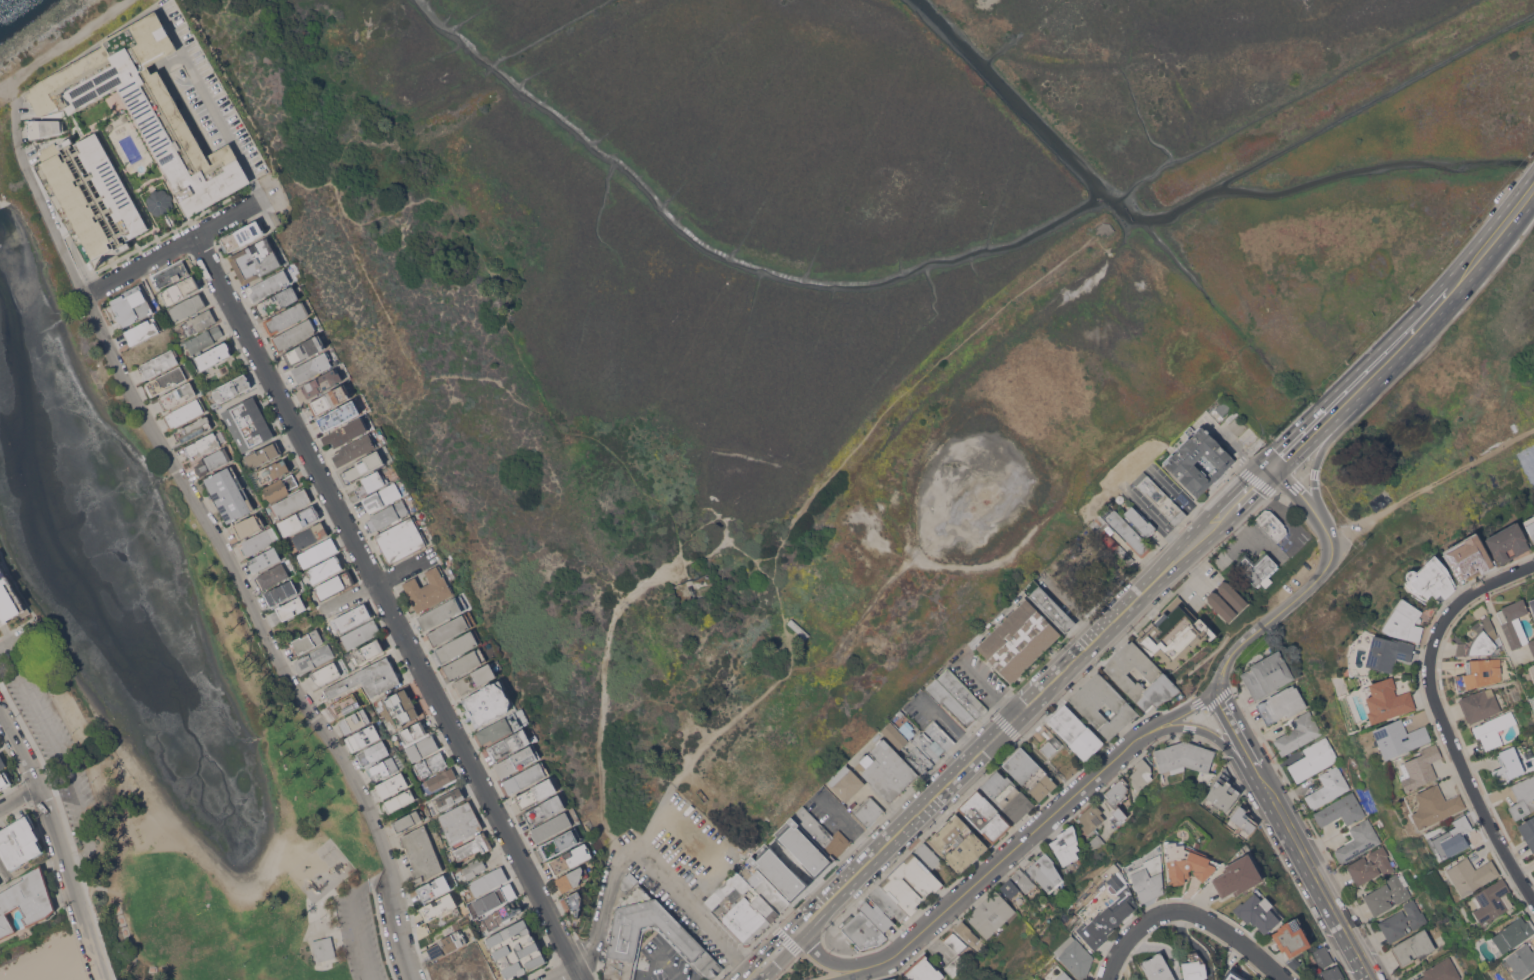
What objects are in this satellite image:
road: (66, 45)
road: (12, 89)
road: (204, 93)
building: (146, 109)
building: (116, 122)
building: (44, 127)
road: (291, 179)
road: (256, 189)
building: (92, 193)
road: (39, 198)
building: (159, 201)
building: (243, 235)
road: (169, 248)
building: (256, 260)
road: (364, 268)
building: (170, 273)
building: (269, 285)
building: (180, 290)
road: (1448, 291)
building: (278, 301)
building: (133, 305)
building: (188, 306)
building: (286, 317)
building: (199, 321)
building: (142, 331)
building: (293, 334)
building: (204, 339)
building: (304, 350)
building: (214, 355)
building: (160, 363)
building: (312, 366)
building: (165, 381)
building: (322, 382)
road: (914, 384)
building: (231, 389)
building: (178, 395)
building: (330, 400)
building: (1223, 407)
building: (185, 413)
building: (338, 415)
building: (1231, 417)
road: (553, 420)
building: (248, 423)
building: (193, 428)
road: (399, 428)
road: (1312, 428)
building: (346, 432)
building: (202, 445)
building: (355, 449)
road: (1319, 453)
building: (264, 454)
building: (389, 458)
building: (212, 461)
building: (1179, 461)
building: (363, 466)
traffic signals: (1272, 468)
road: (1123, 472)
building: (268, 473)
building: (371, 483)
road: (1431, 486)
building: (281, 487)
road: (1175, 491)
building: (230, 493)
road: (1300, 495)
building: (382, 497)
building: (1158, 497)
building: (292, 502)
road: (1151, 513)
building: (388, 515)
building: (300, 520)
building: (1140, 521)
building: (1271, 523)
building: (1098, 524)
building: (248, 525)
building: (1530, 526)
building: (1128, 532)
road: (1329, 534)
building: (310, 535)
building: (401, 539)
building: (1507, 541)
building: (257, 542)
road: (1095, 549)
road: (1013, 550)
building: (318, 552)
building: (1123, 554)
building: (267, 557)
road: (764, 557)
building: (1468, 557)
building: (1255, 567)
building: (325, 569)
park: (1092, 571)
building: (272, 576)
building: (1430, 578)
road: (608, 581)
road: (382, 582)
building: (336, 584)
building: (428, 589)
building: (1533, 590)
building: (281, 592)
road: (777, 594)
building: (1232, 595)
building: (9, 598)
road: (1287, 603)
building: (1532, 604)
building: (1048, 605)
building: (1221, 606)
building: (291, 607)
road: (386, 609)
building: (443, 611)
road: (613, 616)
building: (352, 617)
building: (1405, 621)
building: (1514, 624)
road: (1080, 626)
building: (798, 627)
building: (452, 628)
building: (1172, 631)
road: (263, 632)
building: (361, 634)
road: (22, 635)
building: (1017, 639)
building: (1479, 639)
building: (305, 641)
building: (458, 646)
building: (367, 651)
building: (1386, 652)
building: (314, 658)
building: (465, 662)
building: (1531, 670)
road: (1221, 672)
building: (326, 673)
building: (1479, 673)
building: (1266, 674)
building: (1154, 675)
building: (478, 676)
park: (158, 677)
building: (368, 679)
road: (988, 687)
traffic signals: (1213, 690)
building: (961, 692)
building: (1515, 692)
building: (1533, 697)
road: (1034, 698)
building: (1387, 700)
building: (949, 701)
building: (487, 702)
building: (1281, 704)
building: (1479, 704)
building: (345, 705)
building: (1088, 705)
building: (399, 708)
road: (1178, 711)
building: (900, 712)
road: (1441, 714)
building: (355, 721)
road: (729, 724)
road: (950, 724)
building: (503, 726)
building: (1492, 730)
building: (1075, 731)
building: (412, 732)
building: (1298, 733)
road: (1210, 734)
road: (1237, 734)
building: (895, 735)
building: (939, 736)
building: (364, 737)
building: (1399, 738)
building: (923, 742)
parking lot: (52, 743)
building: (510, 744)
building: (423, 748)
building: (1048, 748)
building: (372, 754)
road: (59, 756)
building: (1184, 756)
building: (919, 759)
building: (1313, 759)
building: (517, 761)
building: (2, 762)
building: (431, 764)
building: (1507, 765)
building: (386, 767)
building: (1420, 767)
building: (886, 769)
building: (1029, 773)
building: (1140, 773)
building: (525, 777)
building: (440, 778)
building: (4, 780)
building: (846, 783)
building: (392, 785)
building: (1328, 787)
building: (1222, 792)
building: (535, 793)
building: (1007, 795)
building: (1523, 796)
road: (19, 797)
building: (1117, 797)
building: (449, 798)
building: (400, 800)
building: (1434, 806)
building: (544, 809)
building: (1340, 810)
building: (868, 811)
building: (984, 816)
road: (655, 818)
building: (1091, 818)
building: (407, 820)
building: (1242, 820)
building: (460, 822)
building: (551, 827)
building: (1527, 830)
building: (821, 832)
building: (1453, 837)
road: (1019, 841)
building: (1095, 841)
building: (1358, 841)
building: (20, 842)
building: (559, 843)
building: (957, 843)
road: (58, 844)
building: (1066, 845)
building: (473, 846)
building: (804, 848)
building: (421, 853)
building: (926, 855)
building: (570, 858)
road: (644, 862)
building: (1187, 863)
building: (1370, 866)
building: (474, 867)
road: (4, 869)
building: (1044, 871)
building: (779, 873)
building: (1147, 874)
building: (1470, 874)
building: (1237, 876)
building: (572, 878)
road: (1316, 879)
building: (1022, 880)
building: (488, 881)
building: (0, 882)
building: (0, 884)
building: (894, 884)
building: (434, 888)
building: (1013, 892)
building: (867, 894)
building: (1388, 894)
building: (494, 898)
building: (26, 901)
building: (575, 901)
building: (1490, 901)
building: (886, 902)
building: (749, 903)
building: (439, 906)
building: (1106, 907)
road: (1188, 912)
building: (1257, 912)
building: (990, 913)
building: (502, 914)
building: (465, 915)
building: (877, 915)
road: (355, 916)
building: (1402, 921)
building: (440, 924)
building: (630, 927)
building: (861, 931)
parking lot: (359, 933)
building: (967, 933)
building: (1510, 935)
building: (1291, 937)
building: (954, 942)
building: (447, 944)
building: (1413, 947)
building: (324, 948)
building: (516, 949)
road: (771, 954)
building: (1074, 956)
building: (1322, 956)
building: (1519, 961)
road: (841, 962)
building: (955, 965)
building: (1157, 968)
road: (81, 970)
building: (922, 970)
building: (1194, 970)
road: (871, 971)
building: (1441, 971)
road: (563, 972)
building: (1332, 973)
building: (1233, 975)
building: (1064, 976)
building: (1532, 977)
building: (891, 978)

